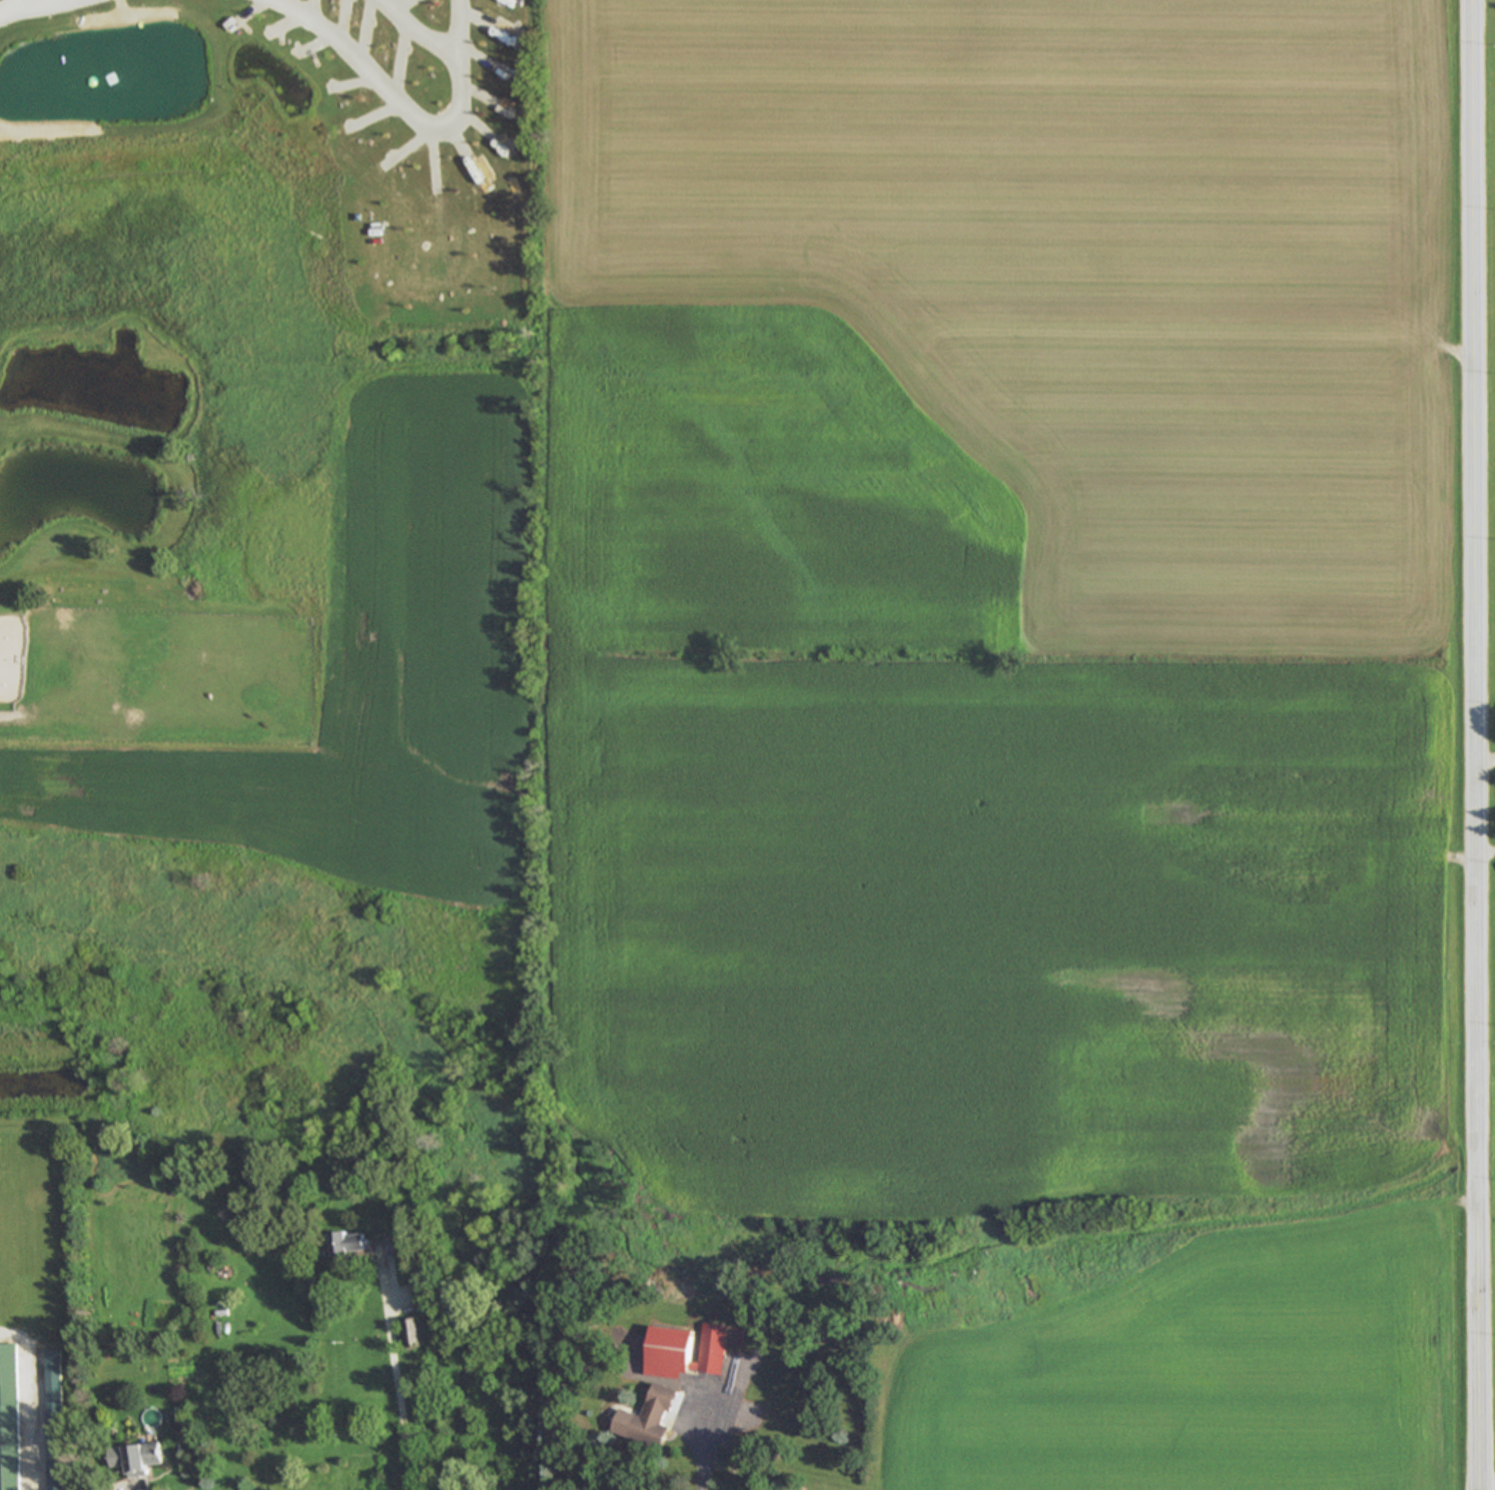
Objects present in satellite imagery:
road: (38, 3)
road: (14, 9)
road: (421, 32)
road: (461, 64)
road: (364, 66)
building: (164, 653)
road: (1474, 745)
road: (1485, 846)
building: (352, 1246)
building: (414, 1335)
building: (688, 1354)
road: (397, 1382)
road: (34, 1415)
building: (651, 1421)
building: (53, 1422)
road: (709, 1447)
building: (8, 1449)
building: (136, 1460)
road: (136, 1487)

